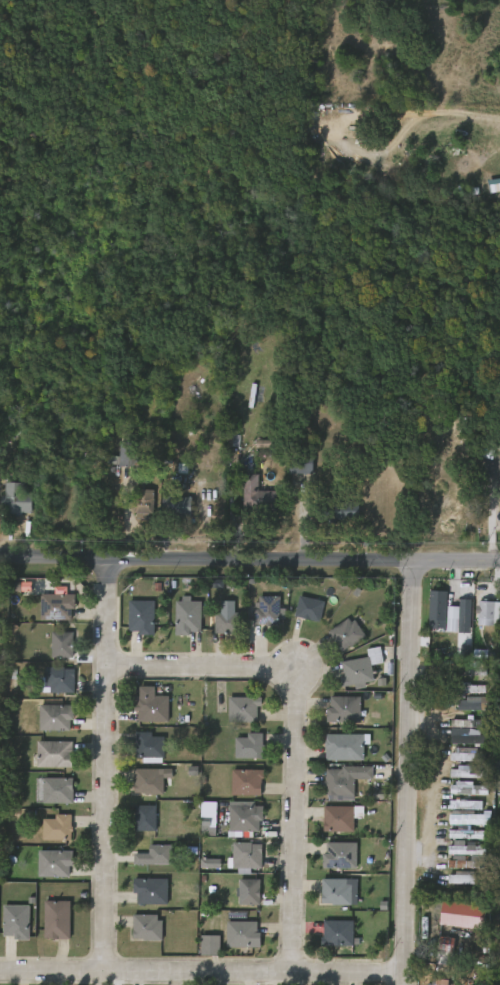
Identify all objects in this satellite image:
building: (134, 450)
building: (117, 457)
building: (303, 462)
building: (290, 469)
building: (259, 495)
building: (18, 498)
building: (247, 501)
building: (143, 503)
building: (176, 508)
building: (498, 508)
building: (136, 511)
building: (338, 511)
building: (293, 513)
road: (249, 558)
building: (59, 604)
building: (309, 609)
building: (269, 610)
building: (440, 611)
building: (300, 614)
building: (499, 615)
building: (141, 617)
building: (187, 617)
building: (479, 618)
building: (227, 623)
building: (217, 628)
building: (348, 633)
building: (62, 645)
building: (53, 650)
building: (363, 668)
building: (472, 668)
road: (297, 670)
building: (61, 679)
building: (51, 685)
building: (151, 708)
building: (463, 708)
building: (243, 709)
building: (344, 710)
building: (55, 717)
building: (469, 722)
road: (297, 732)
building: (458, 741)
building: (151, 747)
building: (249, 747)
building: (346, 747)
building: (140, 752)
building: (56, 753)
building: (467, 755)
building: (454, 759)
road: (106, 763)
road: (408, 771)
building: (454, 777)
building: (345, 781)
building: (148, 782)
building: (247, 782)
road: (431, 787)
building: (468, 788)
building: (54, 789)
building: (458, 793)
building: (456, 809)
building: (144, 817)
building: (245, 817)
building: (344, 817)
building: (469, 818)
building: (136, 823)
building: (329, 824)
building: (460, 824)
building: (57, 827)
building: (198, 830)
building: (466, 833)
building: (456, 839)
building: (469, 848)
building: (249, 854)
building: (453, 854)
building: (155, 855)
building: (342, 855)
building: (238, 860)
building: (54, 862)
building: (201, 868)
building: (467, 878)
building: (450, 882)
building: (153, 890)
building: (249, 891)
building: (335, 891)
building: (239, 896)
building: (463, 914)
building: (56, 918)
building: (16, 920)
building: (146, 926)
building: (243, 933)
building: (341, 933)
building: (328, 938)
building: (201, 950)
road: (202, 972)
building: (418, 984)

